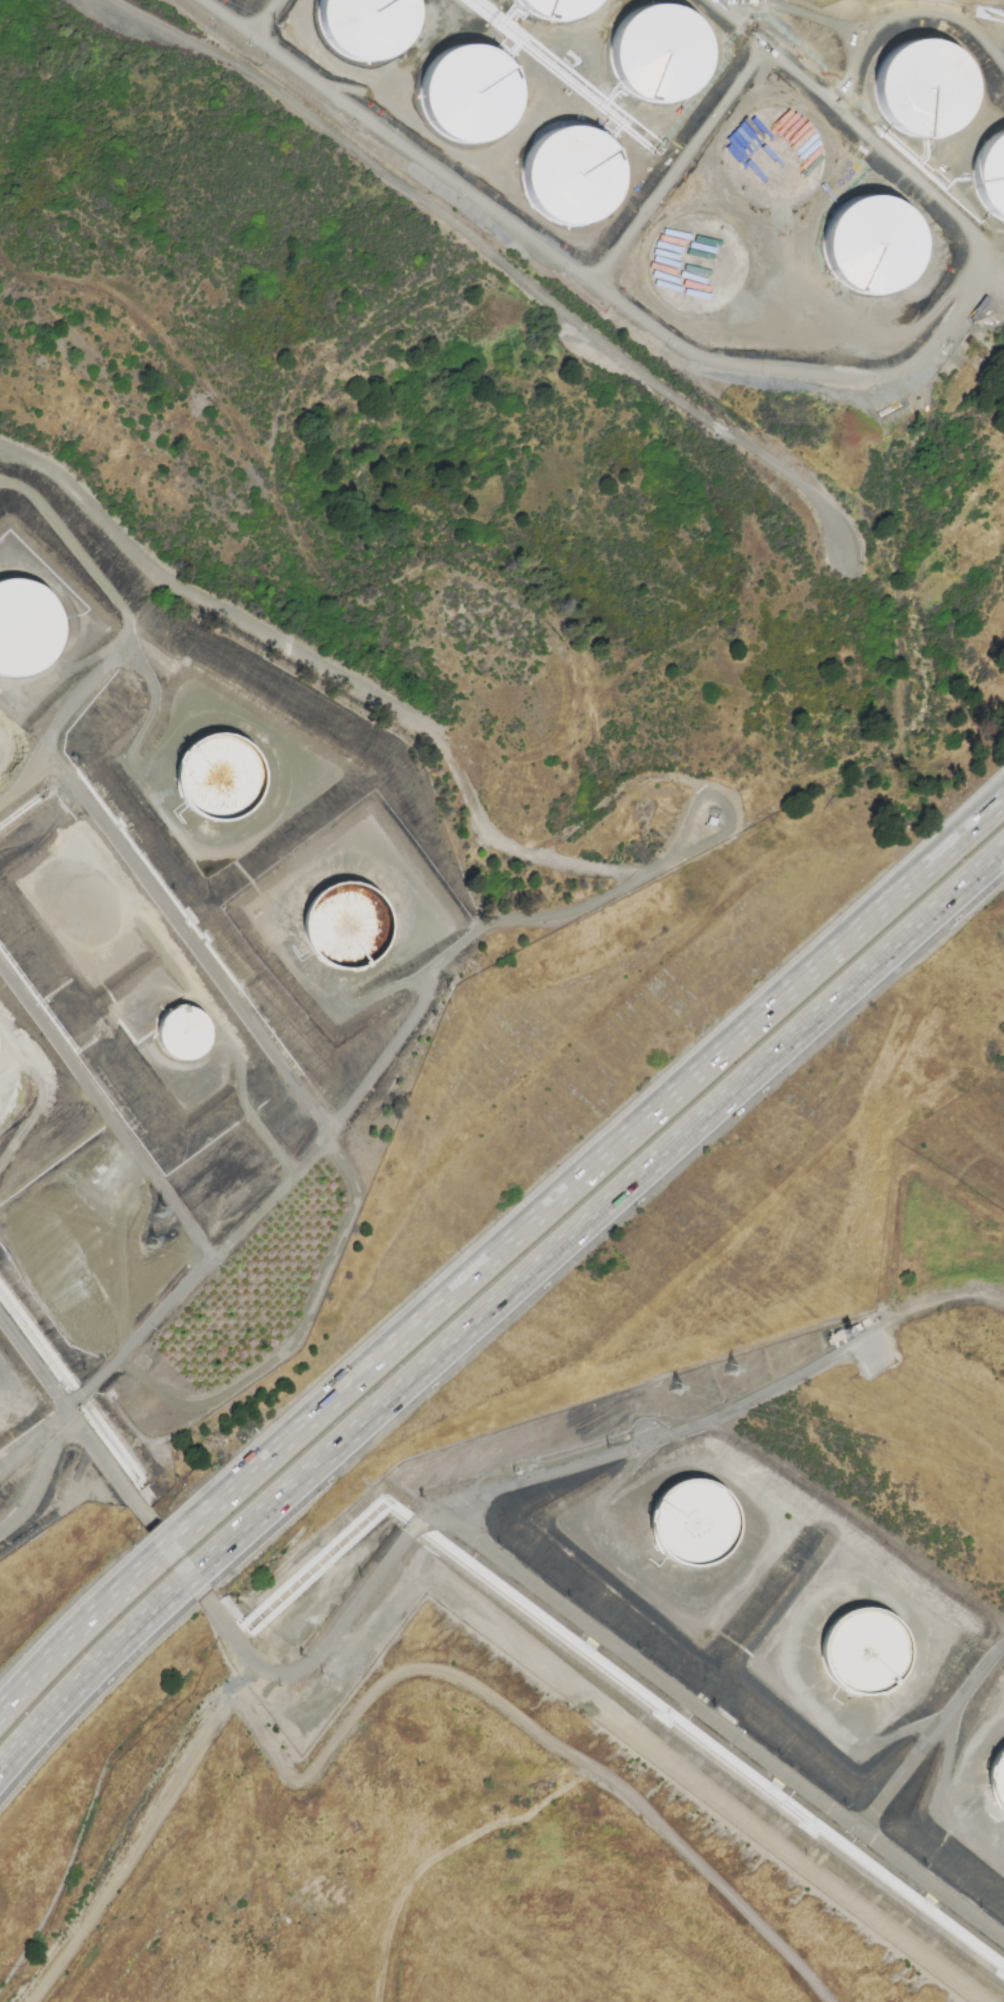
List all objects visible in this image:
building: (556, 9)
storage tank: (556, 9)
road: (265, 17)
building: (368, 27)
storage tank: (368, 27)
building: (661, 56)
storage tank: (661, 56)
building: (926, 91)
storage tank: (926, 91)
building: (471, 96)
storage tank: (471, 96)
building: (777, 161)
storage tank: (777, 161)
road: (682, 166)
building: (573, 178)
storage tank: (573, 178)
building: (993, 178)
storage tank: (993, 178)
building: (873, 248)
storage tank: (873, 248)
road: (491, 255)
building: (699, 267)
storage tank: (699, 267)
road: (754, 367)
building: (25, 639)
storage tank: (25, 639)
building: (235, 772)
storage tank: (235, 772)
road: (27, 777)
road: (576, 825)
road: (587, 865)
building: (345, 936)
storage tank: (345, 936)
road: (219, 978)
building: (187, 1041)
storage tank: (187, 1041)
road: (106, 1113)
road: (597, 1169)
road: (602, 1209)
power tower: (160, 1212)
power tower: (151, 1241)
road: (200, 1270)
power tower: (732, 1372)
road: (793, 1381)
power tower: (676, 1391)
road: (39, 1475)
road: (444, 1522)
building: (693, 1526)
storage tank: (693, 1526)
road: (178, 1553)
road: (193, 1575)
road: (82, 1642)
building: (867, 1662)
storage tank: (867, 1662)
road: (90, 1672)
road: (527, 1722)
road: (931, 1738)
building: (997, 1788)
storage tank: (997, 1788)
road: (135, 1831)

